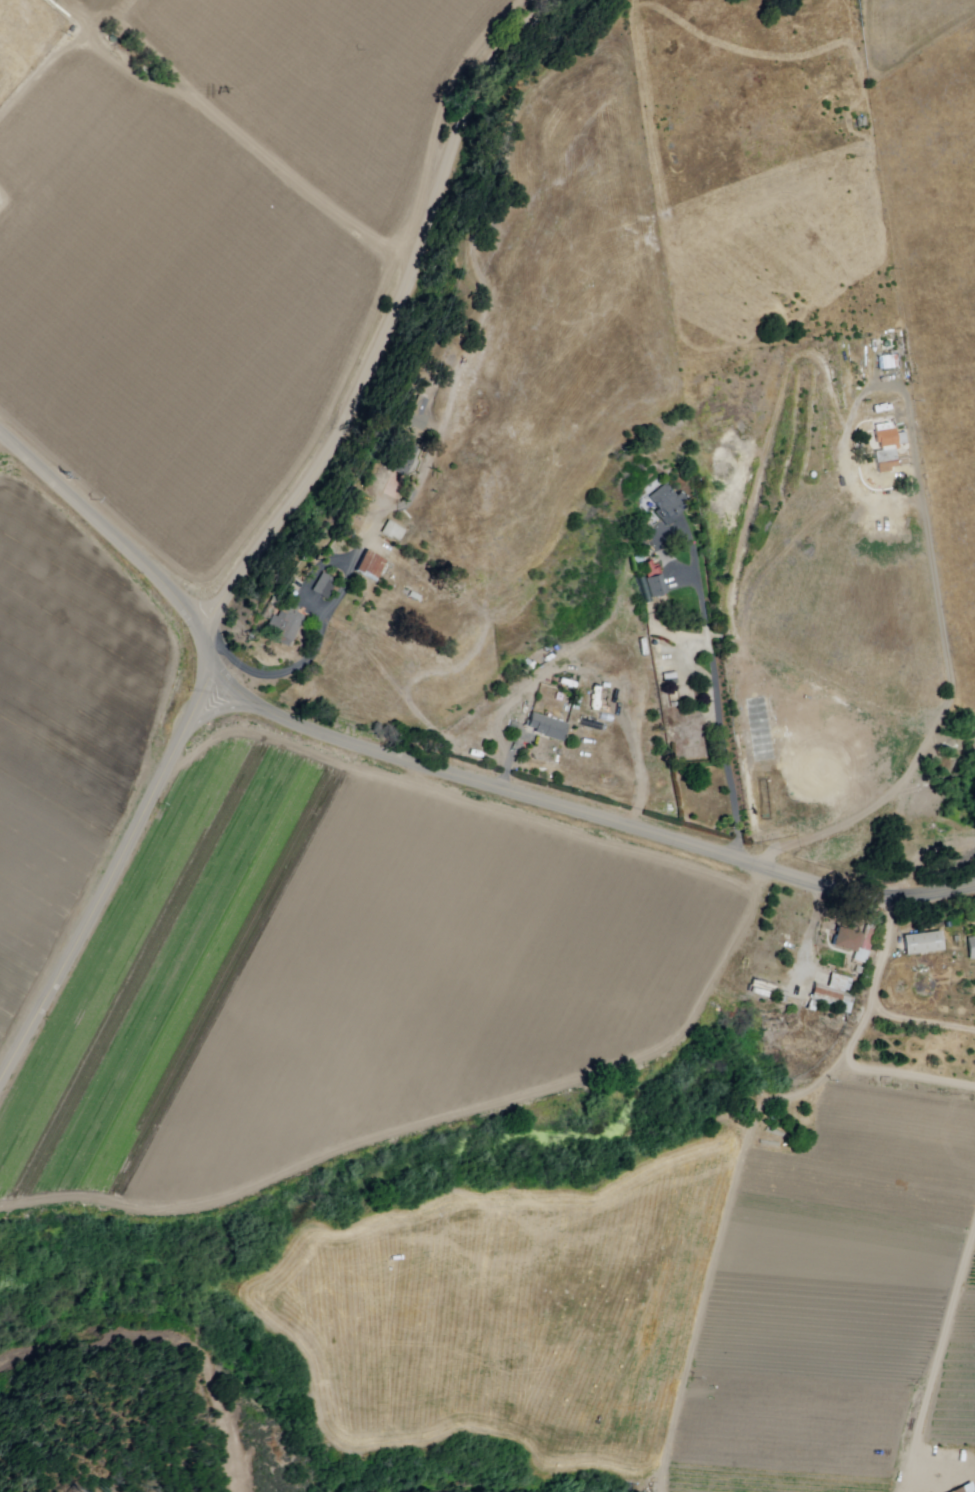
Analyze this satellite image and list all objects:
crop: (107, 5)
crop: (333, 81)
crop: (170, 311)
road: (393, 327)
building: (887, 361)
building: (902, 407)
building: (418, 415)
building: (902, 439)
building: (886, 448)
building: (402, 457)
building: (438, 482)
building: (668, 505)
building: (354, 520)
building: (393, 532)
building: (346, 534)
road: (357, 555)
building: (371, 567)
building: (325, 586)
building: (657, 586)
building: (284, 626)
road: (949, 678)
building: (669, 680)
road: (718, 693)
building: (587, 724)
building: (549, 727)
crop: (64, 728)
road: (431, 768)
road: (107, 876)
building: (957, 935)
building: (848, 942)
building: (924, 944)
road: (884, 948)
building: (971, 949)
building: (768, 974)
crop: (337, 980)
building: (843, 980)
building: (832, 1000)
road: (921, 1021)
road: (726, 1219)
crop: (831, 1286)
road: (937, 1362)
crop: (956, 1388)

